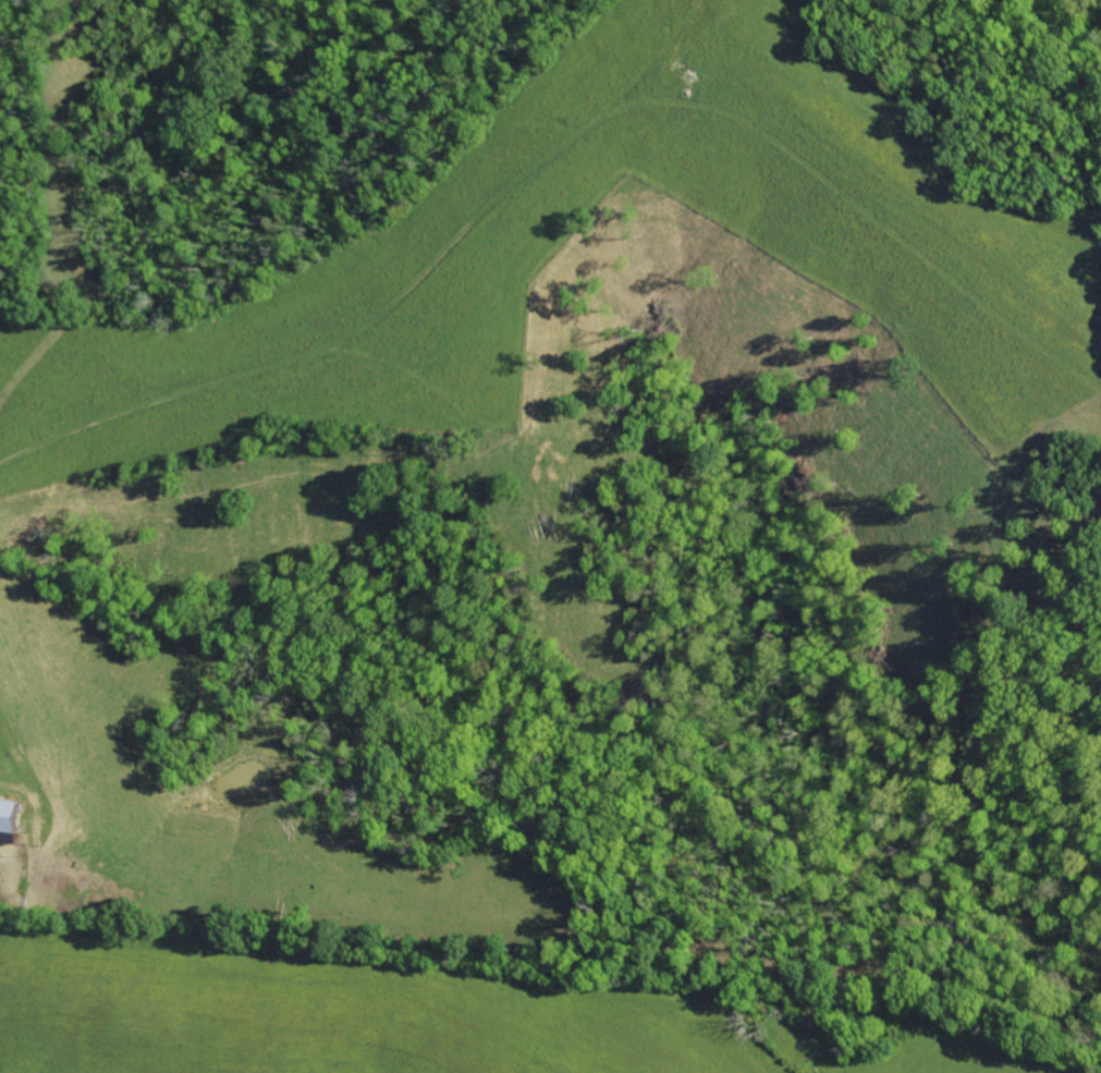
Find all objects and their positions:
building: (11, 816)

